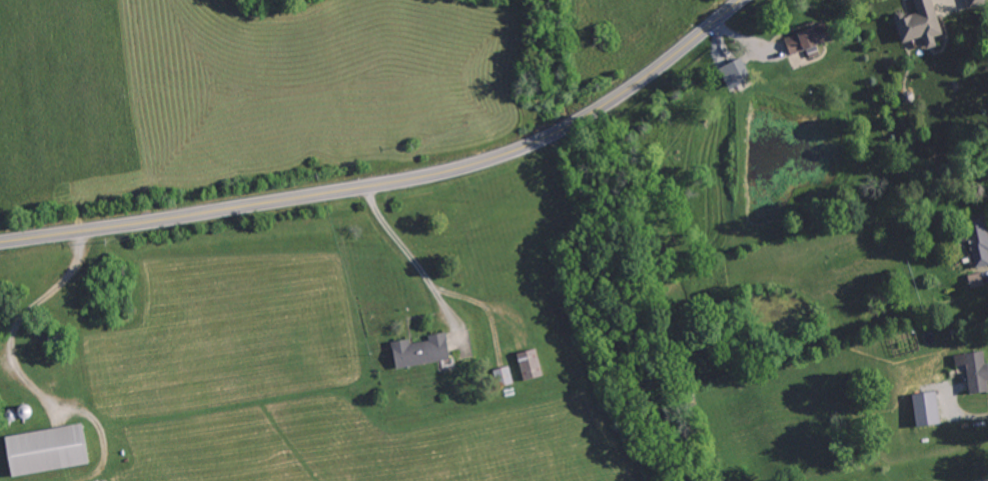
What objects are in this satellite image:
building: (970, 2)
building: (915, 24)
building: (798, 43)
road: (393, 180)
building: (974, 244)
road: (408, 258)
building: (971, 280)
road: (24, 322)
building: (415, 351)
building: (525, 365)
building: (970, 371)
building: (500, 376)
building: (920, 409)
road: (961, 409)
building: (40, 451)
road: (978, 477)

